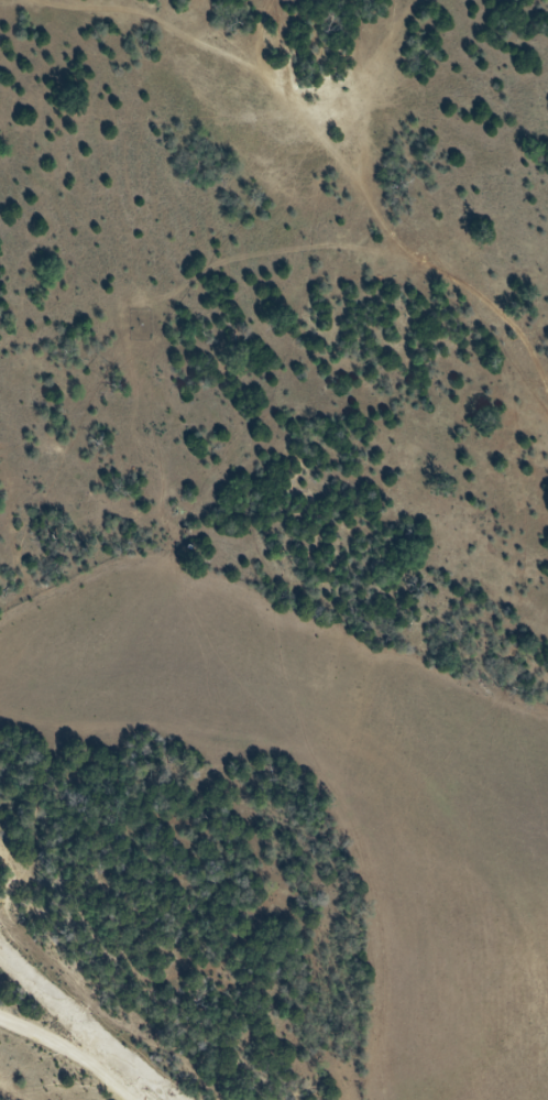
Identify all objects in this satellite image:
road: (78, 1045)

